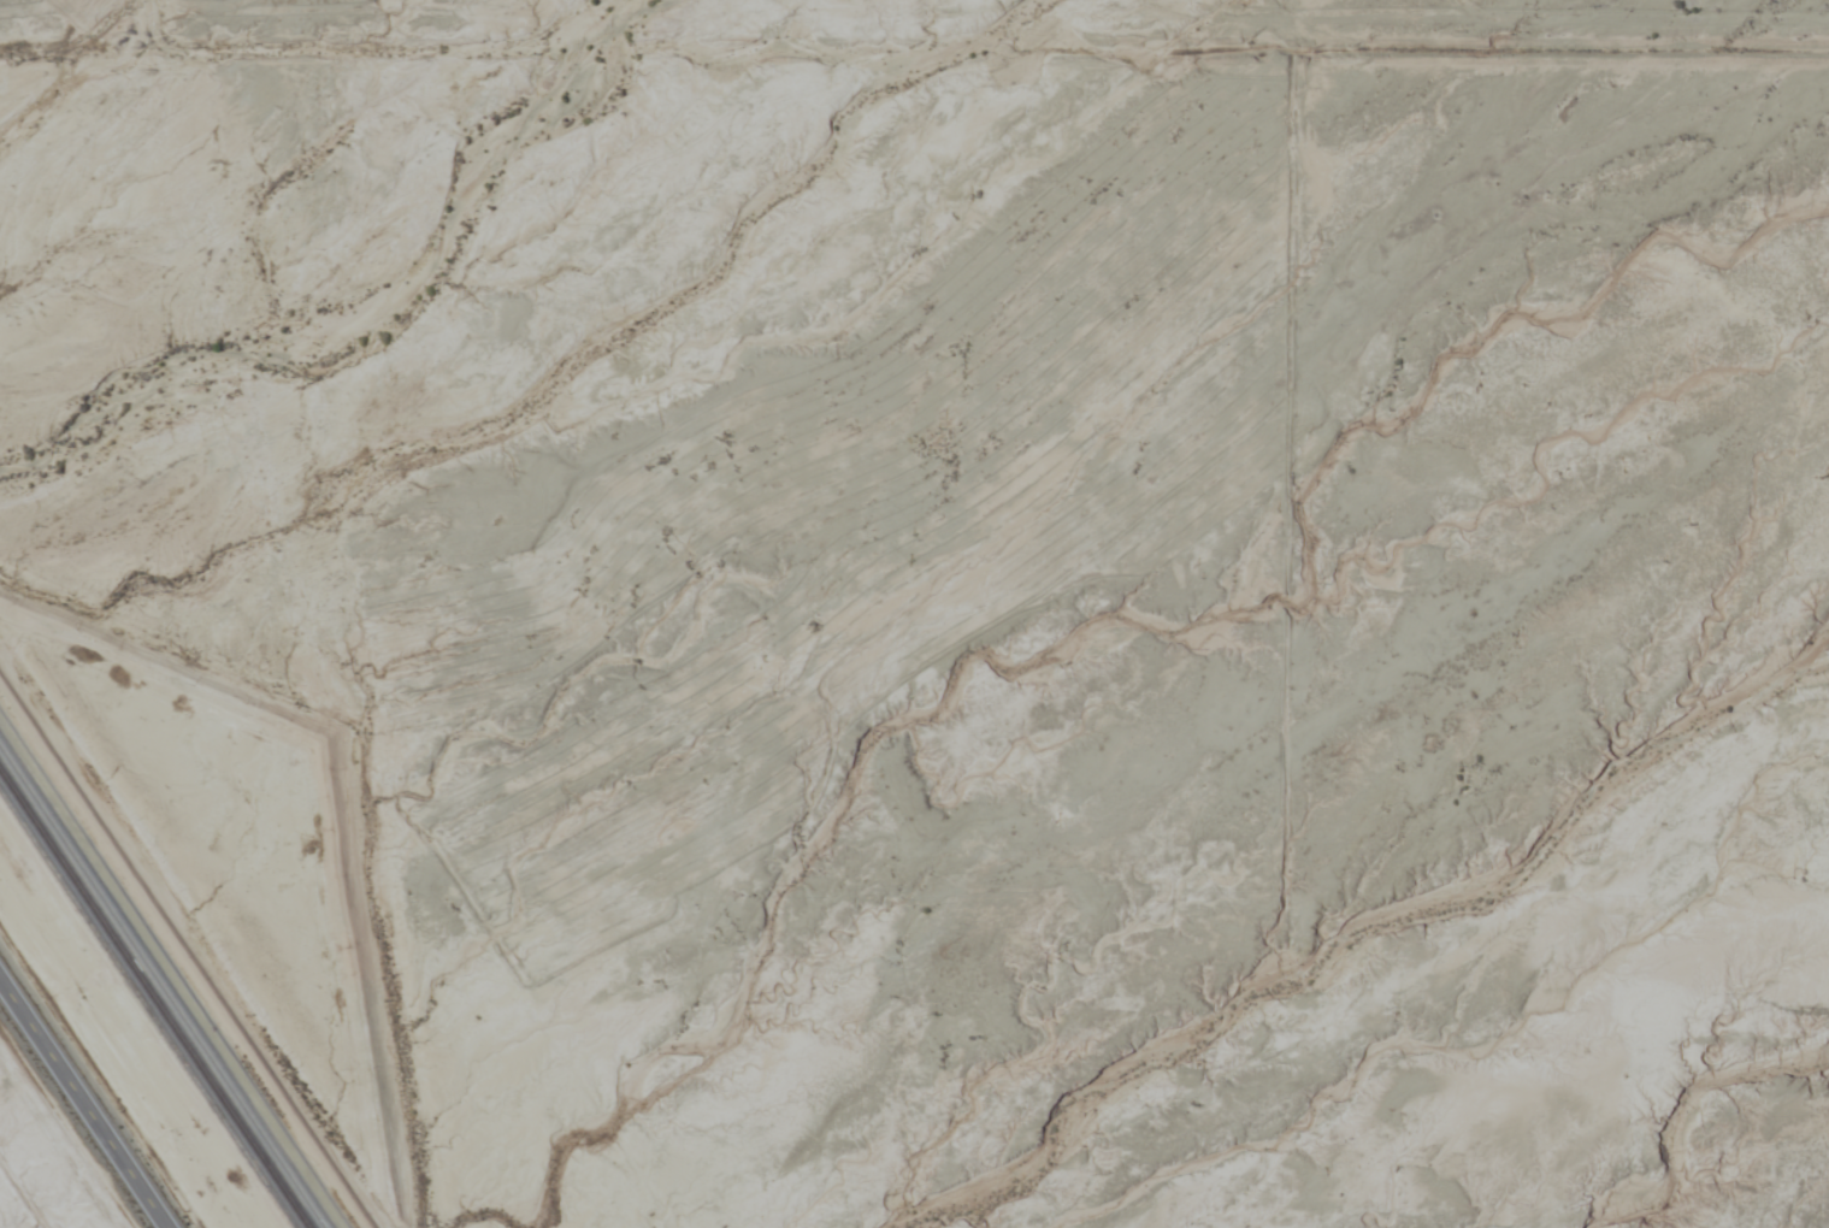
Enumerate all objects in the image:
railway: (169, 979)
railway: (158, 992)
road: (83, 1103)

